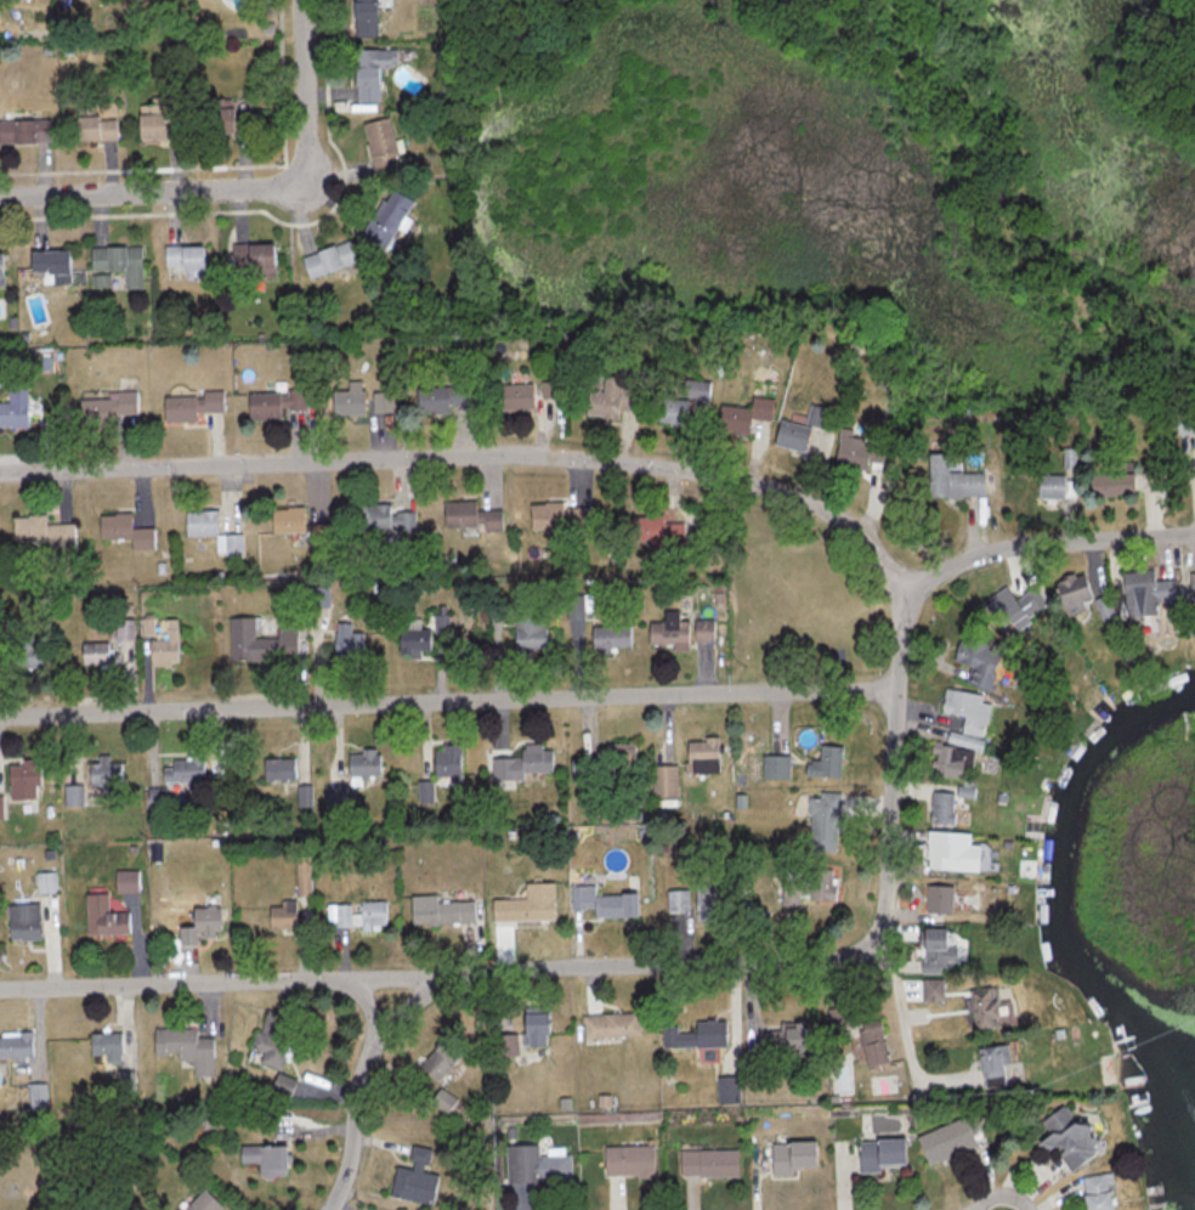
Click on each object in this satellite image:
building: (363, 17)
building: (369, 72)
road: (305, 94)
building: (157, 120)
building: (228, 121)
building: (94, 129)
building: (24, 132)
building: (380, 146)
park: (844, 186)
road: (146, 193)
road: (992, 203)
building: (385, 219)
building: (327, 259)
building: (185, 260)
building: (251, 260)
building: (118, 262)
building: (49, 265)
building: (0, 266)
building: (550, 390)
building: (695, 390)
building: (514, 397)
building: (443, 398)
building: (611, 400)
building: (345, 402)
building: (381, 402)
building: (272, 403)
building: (188, 406)
building: (103, 408)
building: (668, 412)
building: (12, 414)
building: (742, 415)
building: (1184, 422)
building: (799, 430)
building: (856, 451)
road: (480, 457)
building: (950, 480)
building: (1111, 484)
building: (1054, 487)
building: (468, 518)
building: (383, 519)
building: (285, 520)
building: (555, 520)
building: (40, 531)
building: (124, 531)
building: (655, 531)
building: (211, 532)
building: (1072, 592)
building: (1144, 593)
building: (1103, 607)
building: (1010, 609)
building: (443, 624)
building: (529, 631)
building: (668, 632)
building: (702, 632)
building: (610, 638)
building: (412, 640)
building: (260, 641)
building: (346, 641)
building: (164, 645)
building: (0, 651)
building: (29, 651)
building: (94, 654)
building: (976, 656)
road: (451, 701)
building: (967, 711)
building: (701, 756)
building: (446, 761)
building: (601, 762)
building: (945, 762)
building: (522, 763)
building: (825, 763)
building: (362, 764)
building: (774, 767)
building: (278, 769)
building: (185, 770)
building: (104, 776)
building: (23, 780)
building: (663, 781)
building: (72, 795)
building: (335, 797)
building: (154, 798)
building: (940, 804)
building: (0, 808)
building: (822, 822)
building: (952, 854)
building: (125, 882)
building: (808, 887)
building: (676, 900)
building: (938, 900)
building: (602, 903)
building: (707, 903)
building: (526, 905)
building: (440, 912)
building: (361, 916)
building: (281, 917)
building: (23, 923)
building: (107, 925)
building: (200, 925)
building: (935, 950)
road: (836, 955)
road: (200, 983)
road: (897, 1005)
building: (987, 1008)
building: (610, 1027)
building: (533, 1031)
building: (695, 1035)
building: (786, 1039)
building: (268, 1044)
building: (871, 1044)
building: (18, 1045)
building: (111, 1046)
building: (503, 1046)
building: (186, 1050)
building: (440, 1061)
building: (992, 1065)
building: (726, 1091)
building: (444, 1102)
building: (1065, 1138)
building: (944, 1142)
building: (880, 1154)
building: (789, 1158)
building: (265, 1160)
building: (628, 1161)
building: (707, 1164)
building: (536, 1166)
building: (414, 1180)
building: (1095, 1192)
building: (205, 1201)

